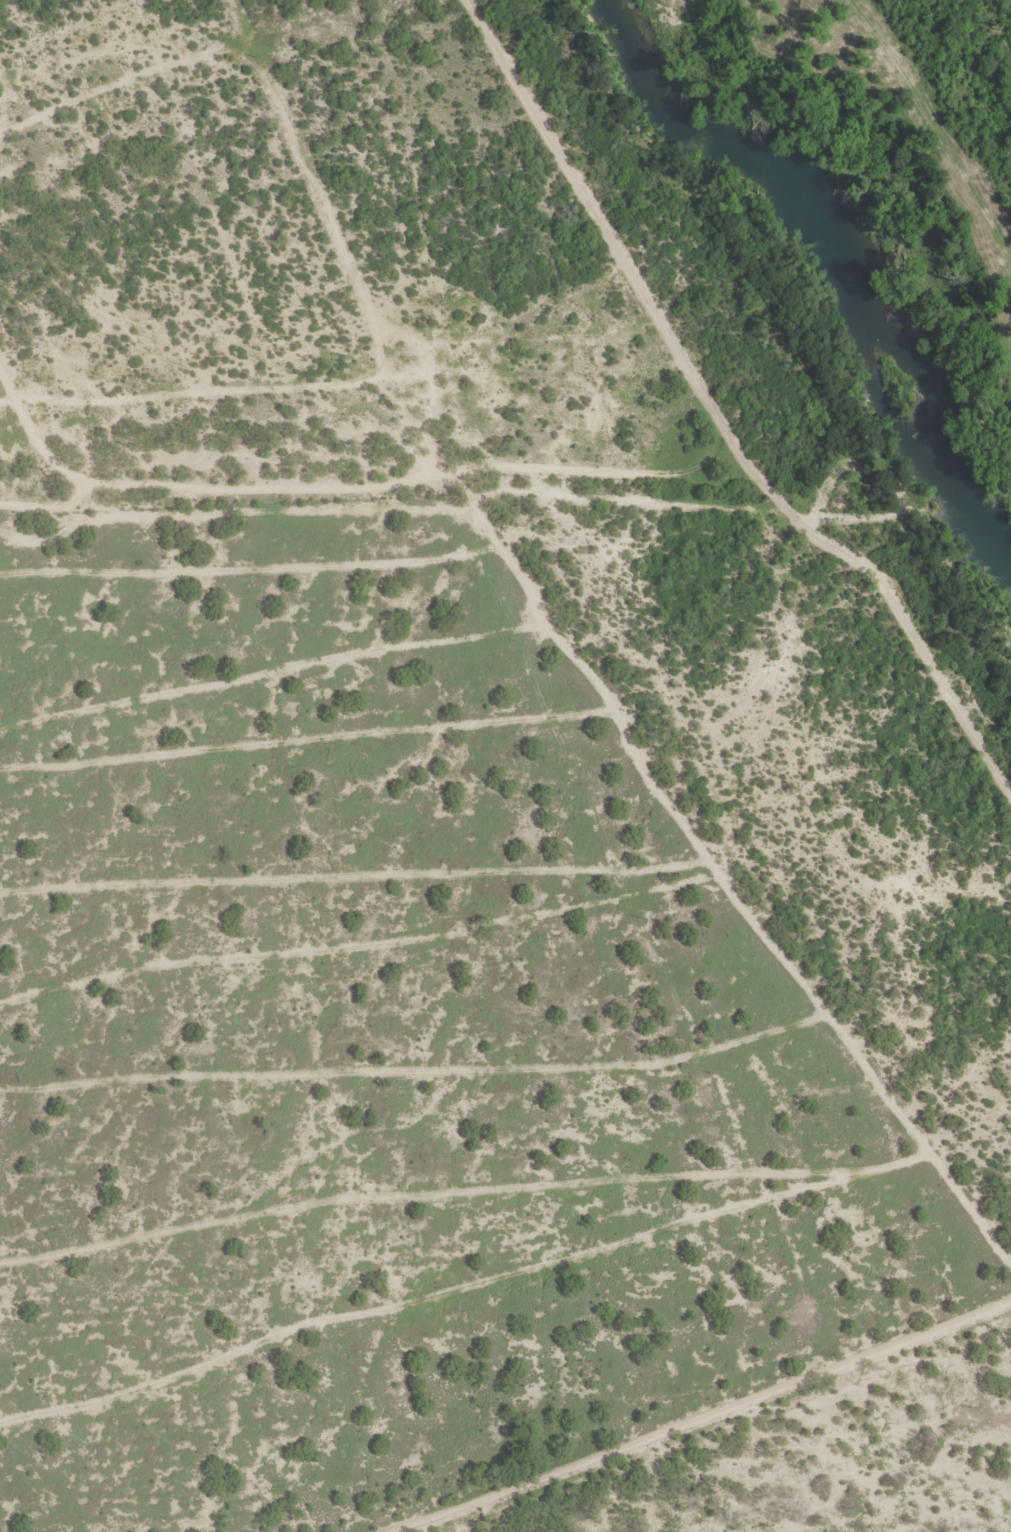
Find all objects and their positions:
road: (936, 120)
river: (838, 254)
road: (225, 330)
road: (414, 479)

